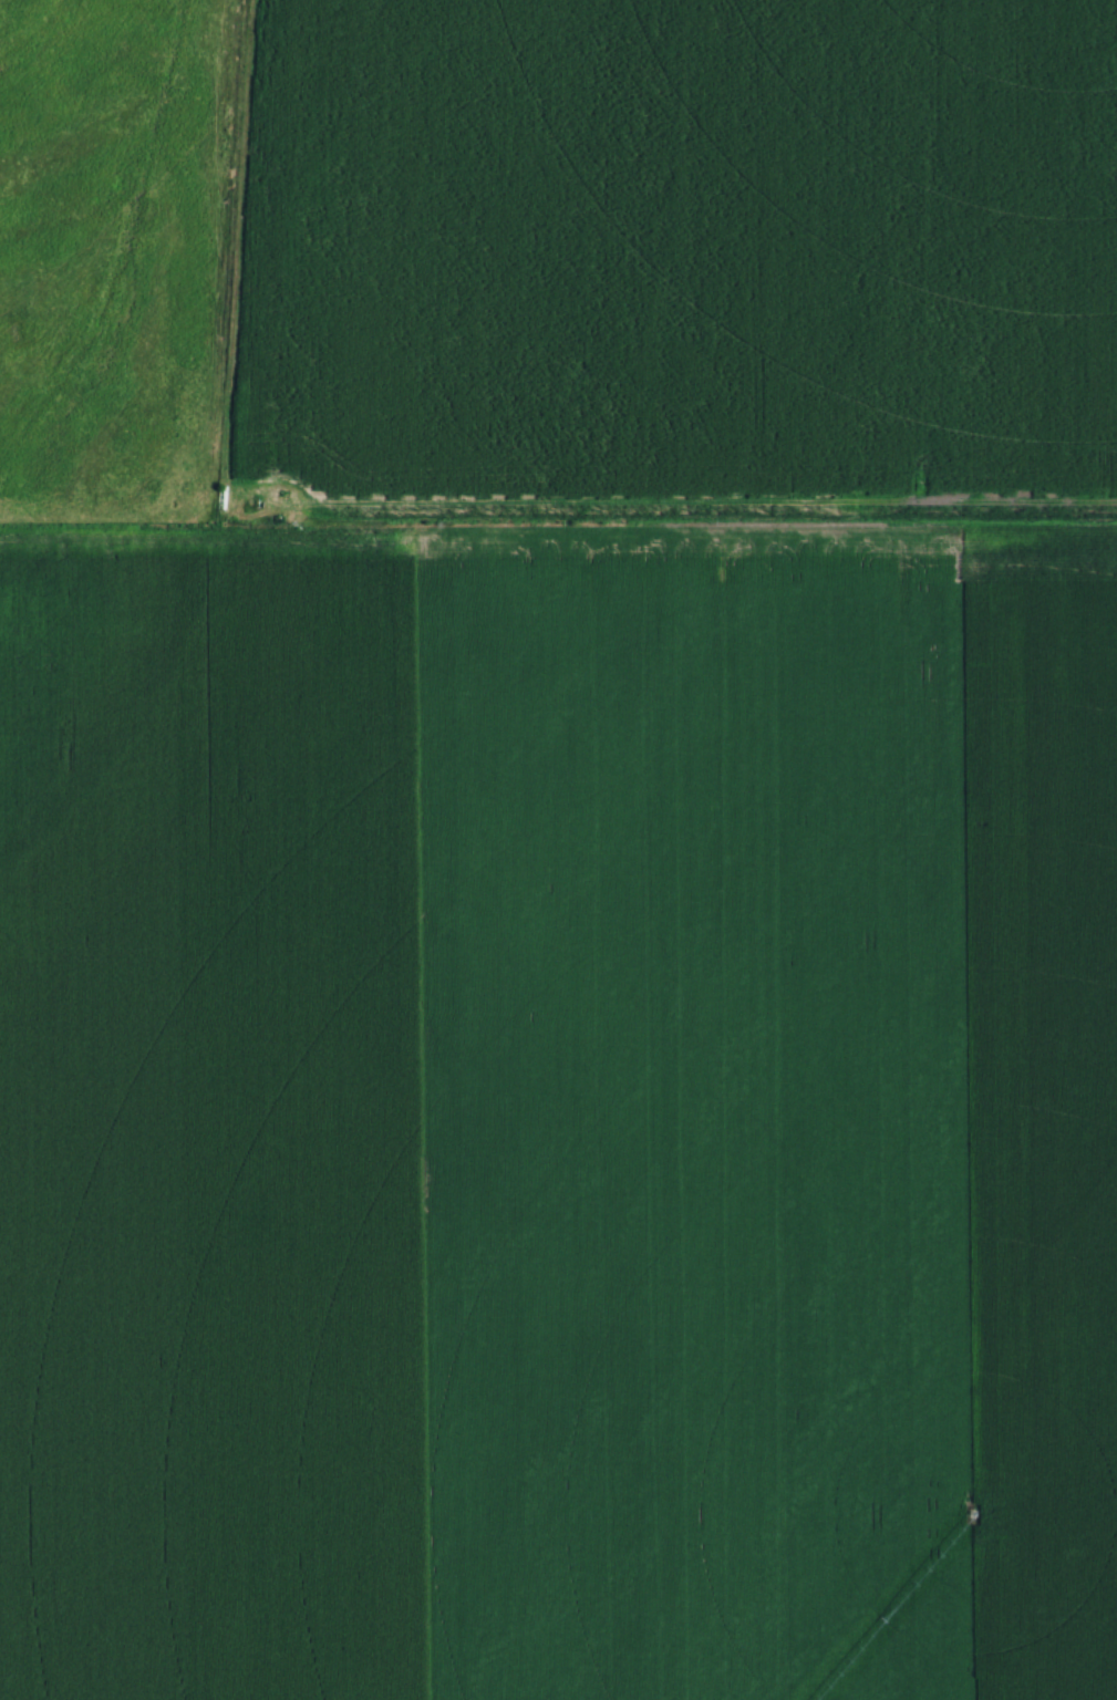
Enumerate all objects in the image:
building: (221, 497)

